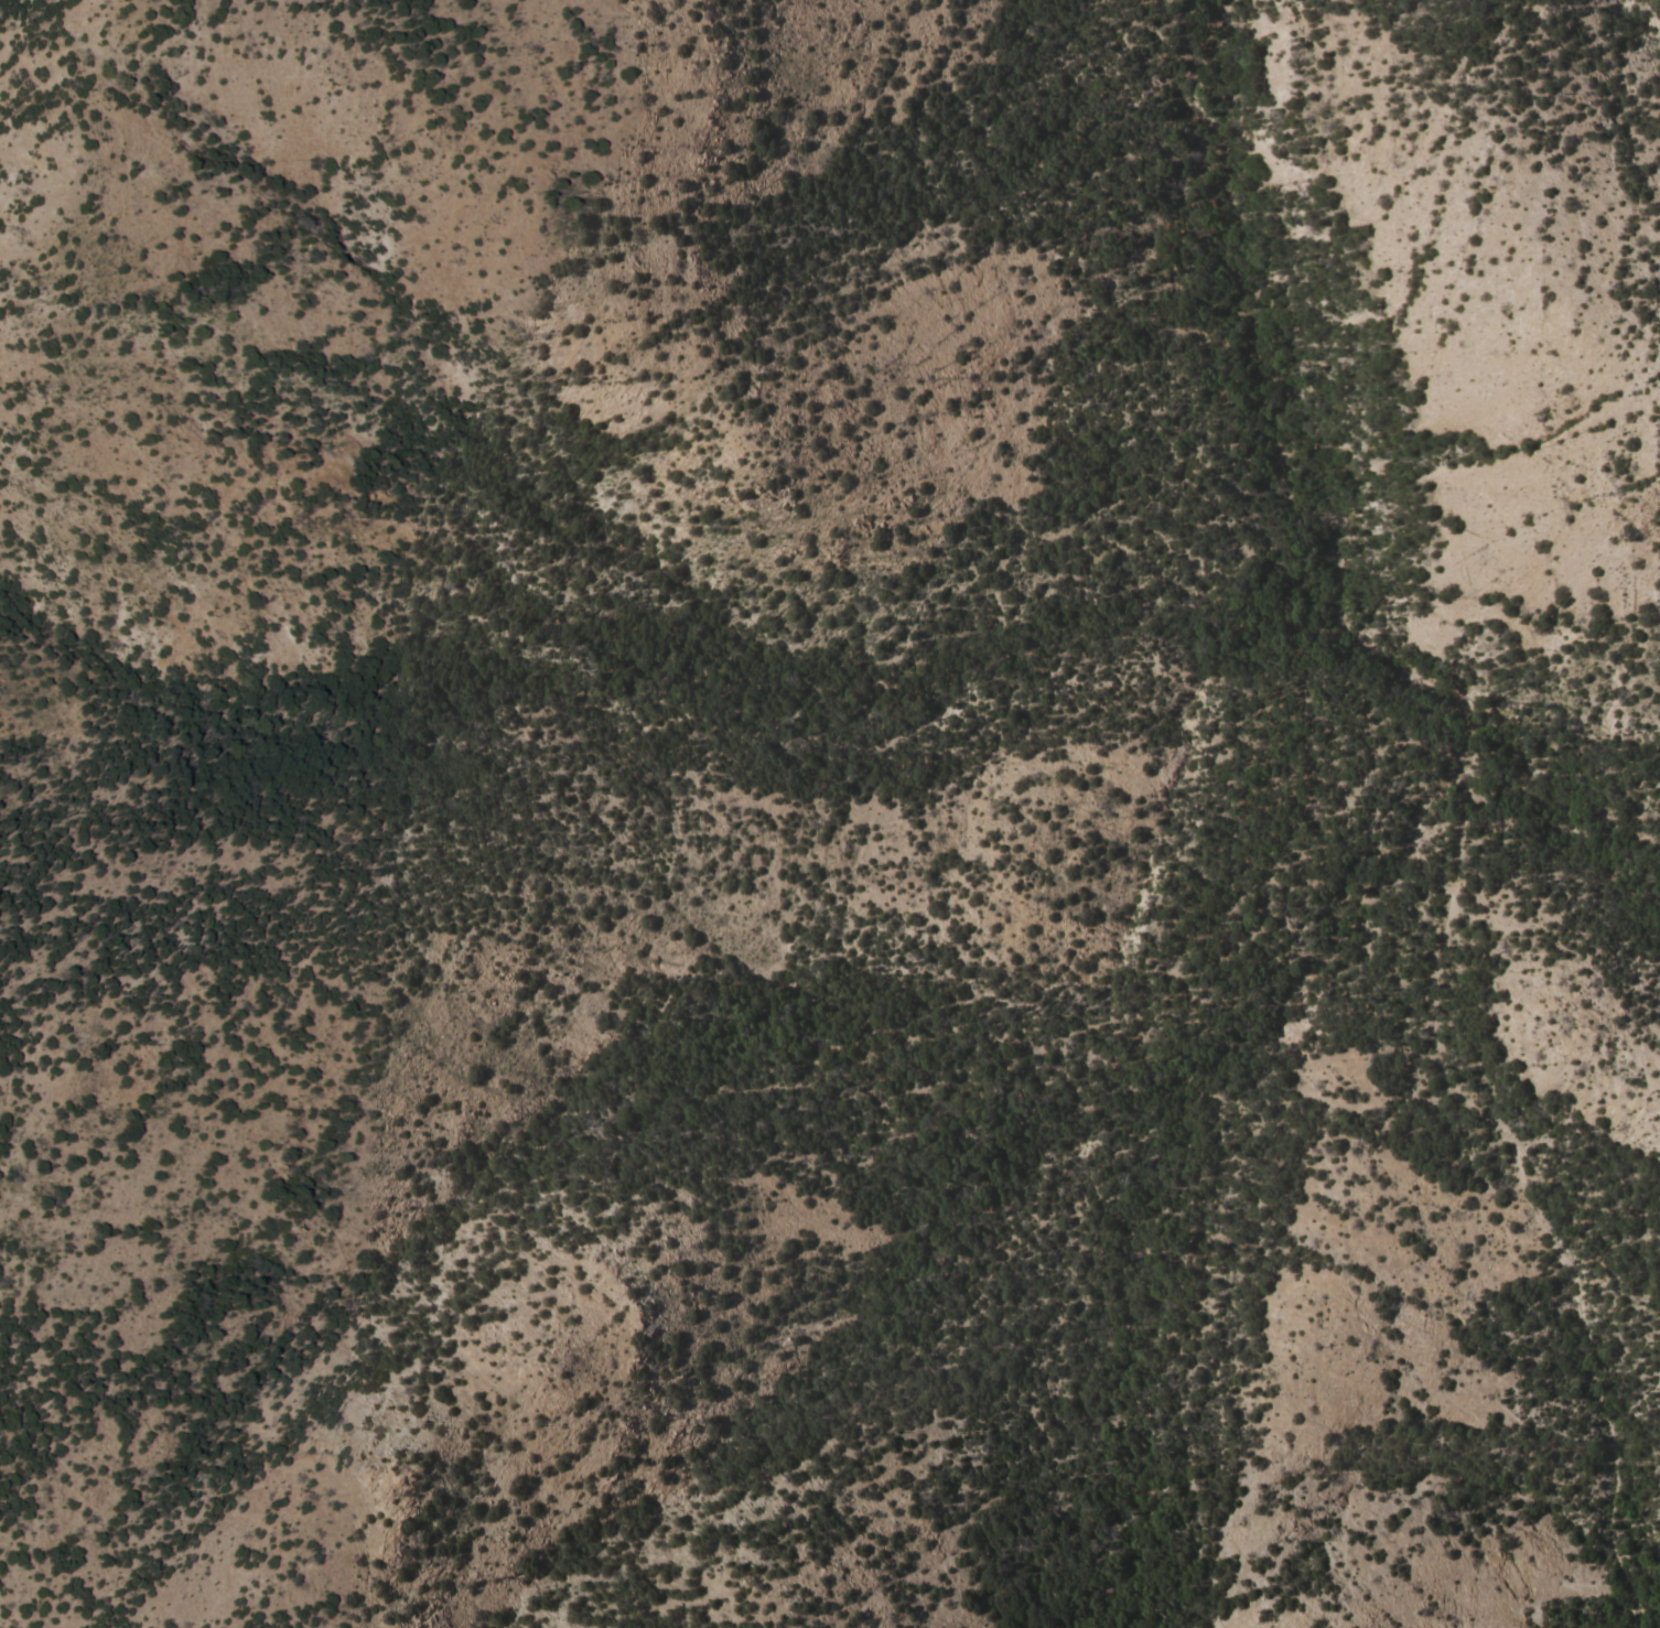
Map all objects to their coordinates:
road: (1465, 801)

